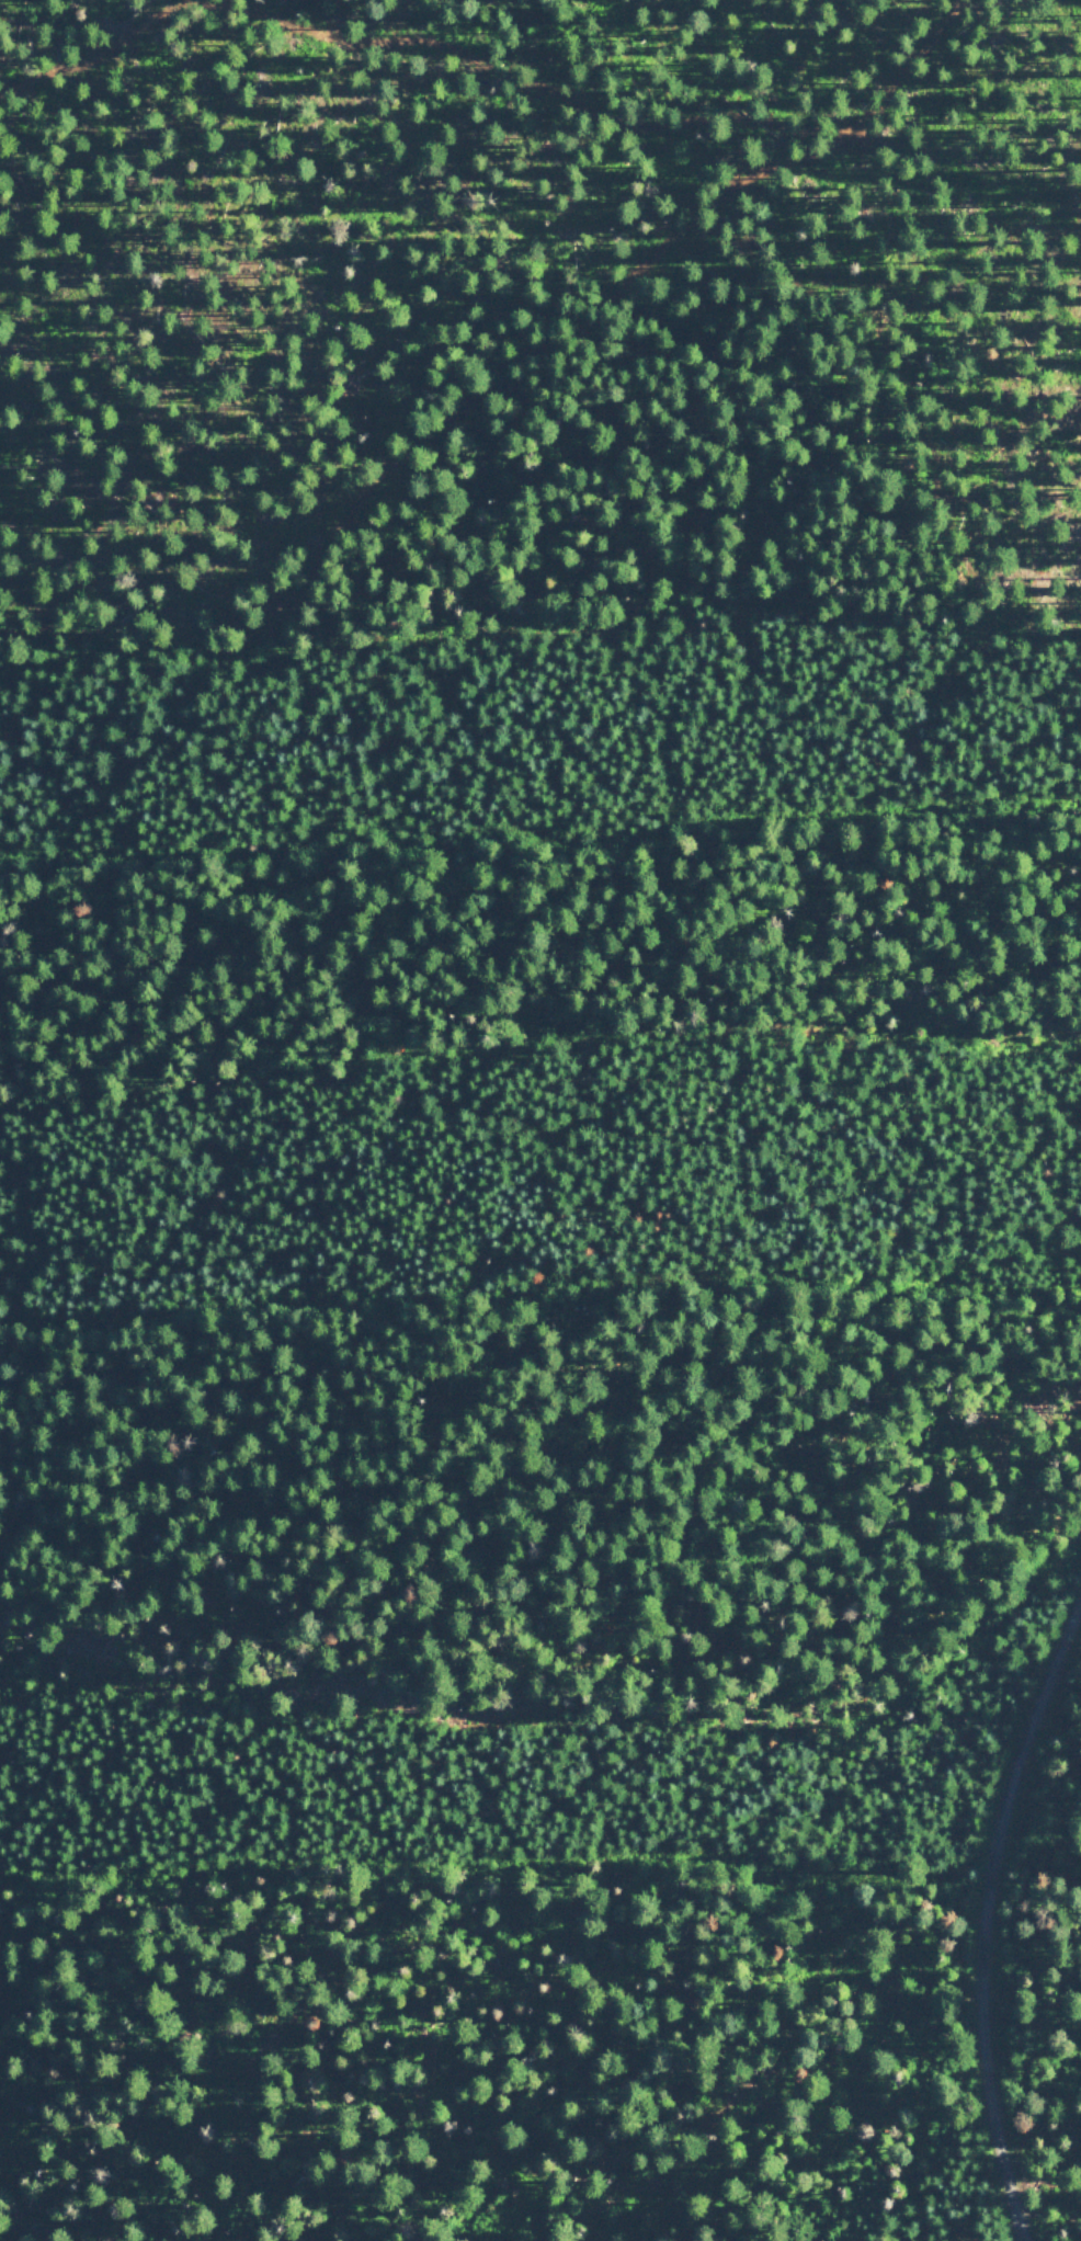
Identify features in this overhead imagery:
road: (1003, 1916)

